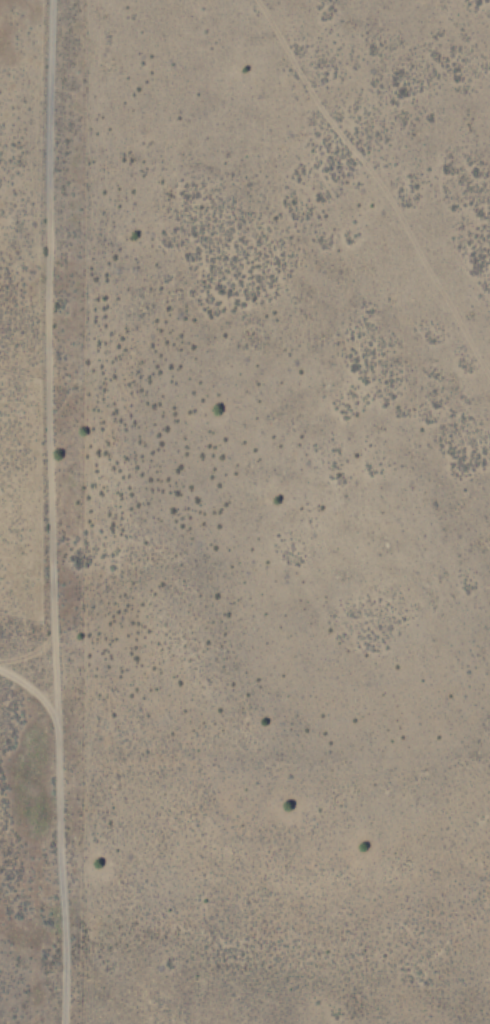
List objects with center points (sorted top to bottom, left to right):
crop: (27, 511)
road: (46, 512)

